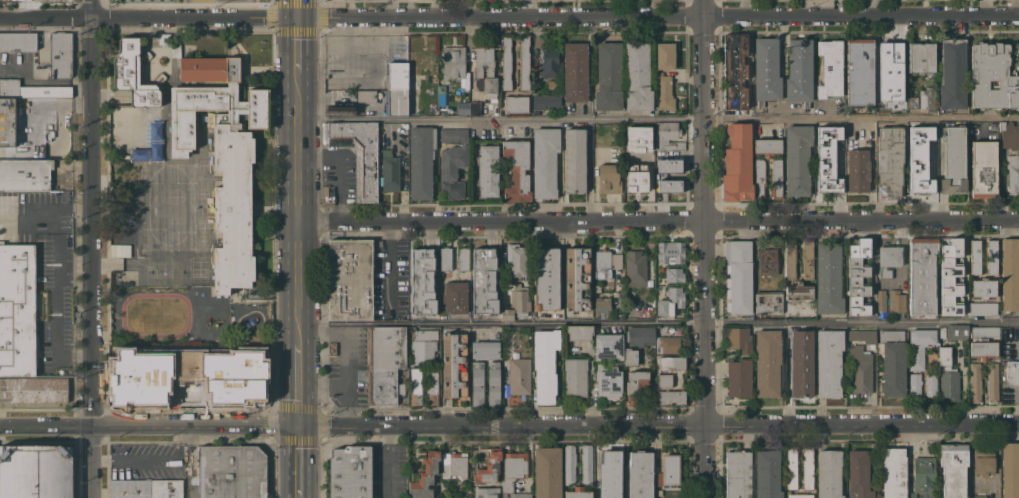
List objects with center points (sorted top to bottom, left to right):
building: (6, 0)
road: (986, 6)
building: (1015, 7)
road: (509, 18)
traffic signals: (296, 19)
building: (164, 38)
building: (17, 41)
building: (1018, 50)
building: (60, 55)
building: (665, 55)
building: (921, 57)
building: (888, 58)
building: (484, 61)
building: (454, 62)
building: (506, 62)
building: (524, 62)
building: (549, 62)
building: (206, 67)
building: (830, 68)
building: (766, 70)
building: (734, 71)
building: (799, 71)
building: (860, 71)
building: (575, 72)
building: (952, 73)
building: (133, 74)
building: (608, 76)
building: (637, 76)
building: (992, 77)
building: (397, 88)
building: (487, 89)
building: (664, 92)
building: (366, 96)
building: (927, 98)
building: (546, 101)
building: (893, 102)
building: (912, 102)
building: (516, 104)
building: (475, 108)
building: (535, 112)
road: (862, 118)
road: (501, 119)
building: (7, 121)
building: (404, 125)
building: (634, 133)
building: (454, 135)
building: (1009, 135)
building: (668, 136)
building: (911, 138)
building: (927, 141)
building: (148, 143)
building: (767, 146)
building: (22, 154)
building: (357, 154)
building: (122, 156)
building: (826, 158)
building: (797, 159)
building: (574, 160)
building: (889, 160)
building: (421, 161)
building: (545, 162)
building: (953, 162)
building: (670, 164)
building: (737, 164)
building: (224, 169)
road: (297, 169)
building: (983, 169)
building: (488, 170)
building: (858, 170)
building: (390, 171)
building: (452, 171)
building: (517, 171)
building: (1013, 173)
building: (25, 174)
building: (634, 174)
building: (919, 174)
building: (665, 178)
building: (759, 178)
building: (608, 179)
building: (776, 179)
building: (327, 195)
road: (41, 209)
road: (55, 220)
road: (657, 223)
road: (87, 249)
road: (706, 249)
building: (670, 252)
building: (975, 256)
building: (991, 257)
building: (445, 258)
building: (463, 258)
building: (790, 259)
building: (807, 259)
building: (516, 260)
building: (888, 260)
building: (767, 261)
building: (602, 263)
road: (389, 265)
building: (635, 266)
building: (1010, 274)
building: (674, 275)
building: (922, 275)
building: (950, 275)
building: (737, 276)
building: (858, 276)
building: (828, 278)
building: (546, 279)
building: (577, 279)
building: (350, 280)
building: (422, 281)
building: (484, 281)
building: (984, 288)
building: (799, 291)
building: (454, 297)
building: (670, 301)
building: (881, 301)
building: (896, 301)
building: (517, 302)
building: (768, 302)
building: (602, 307)
building: (981, 308)
building: (17, 309)
road: (56, 310)
road: (502, 321)
road: (862, 323)
building: (956, 331)
building: (984, 331)
building: (579, 332)
building: (941, 332)
building: (426, 334)
building: (640, 336)
building: (862, 336)
building: (739, 339)
building: (667, 344)
building: (608, 346)
building: (871, 347)
building: (919, 347)
building: (332, 348)
building: (485, 349)
building: (983, 350)
building: (425, 351)
building: (630, 356)
building: (767, 362)
building: (893, 362)
building: (672, 363)
building: (802, 363)
building: (828, 363)
building: (385, 364)
building: (545, 364)
building: (454, 365)
building: (860, 370)
building: (1011, 373)
road: (346, 374)
building: (519, 375)
building: (947, 376)
building: (185, 377)
building: (575, 377)
building: (739, 377)
building: (665, 380)
road: (299, 381)
building: (675, 381)
building: (608, 382)
building: (975, 382)
building: (991, 382)
building: (477, 383)
building: (493, 383)
building: (914, 384)
building: (930, 384)
building: (635, 385)
road: (322, 386)
building: (415, 386)
building: (431, 386)
building: (36, 389)
building: (671, 396)
road: (149, 424)
traffic signals: (300, 425)
road: (659, 426)
road: (178, 435)
road: (101, 458)
road: (151, 458)
road: (300, 461)
building: (983, 461)
road: (388, 462)
building: (569, 464)
building: (586, 464)
building: (454, 465)
building: (488, 467)
building: (791, 467)
building: (807, 467)
building: (670, 468)
building: (513, 469)
building: (953, 469)
building: (1010, 470)
building: (35, 471)
building: (231, 471)
building: (350, 472)
building: (547, 472)
building: (610, 473)
building: (828, 473)
building: (893, 473)
building: (738, 474)
building: (767, 474)
building: (858, 474)
building: (425, 475)
building: (640, 475)
building: (923, 475)
building: (657, 479)
building: (443, 487)
building: (146, 488)
building: (487, 492)
building: (578, 493)
building: (520, 495)
building: (910, 495)
building: (800, 496)
building: (978, 496)
building: (461, 497)

